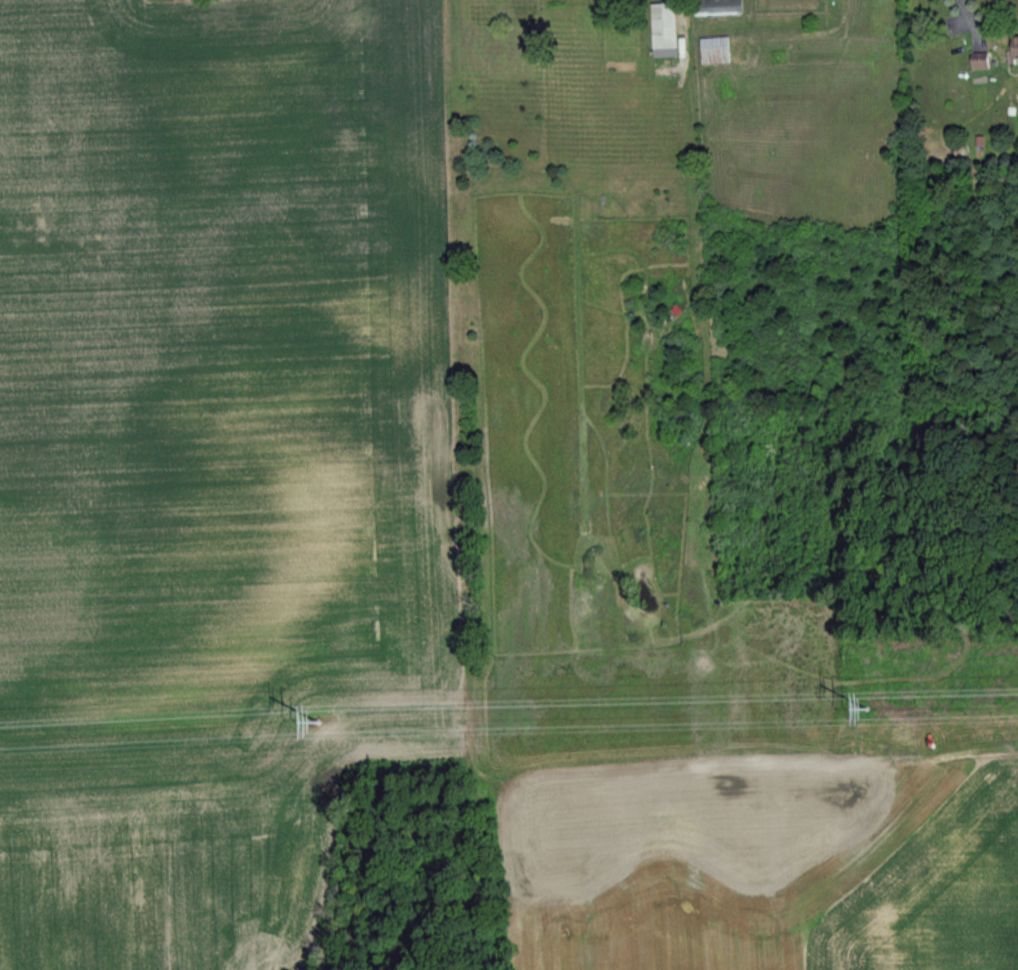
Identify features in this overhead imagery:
building: (717, 7)
road: (963, 10)
building: (661, 30)
building: (1011, 47)
building: (713, 50)
building: (975, 65)
power tower: (868, 716)
power tower: (321, 730)

